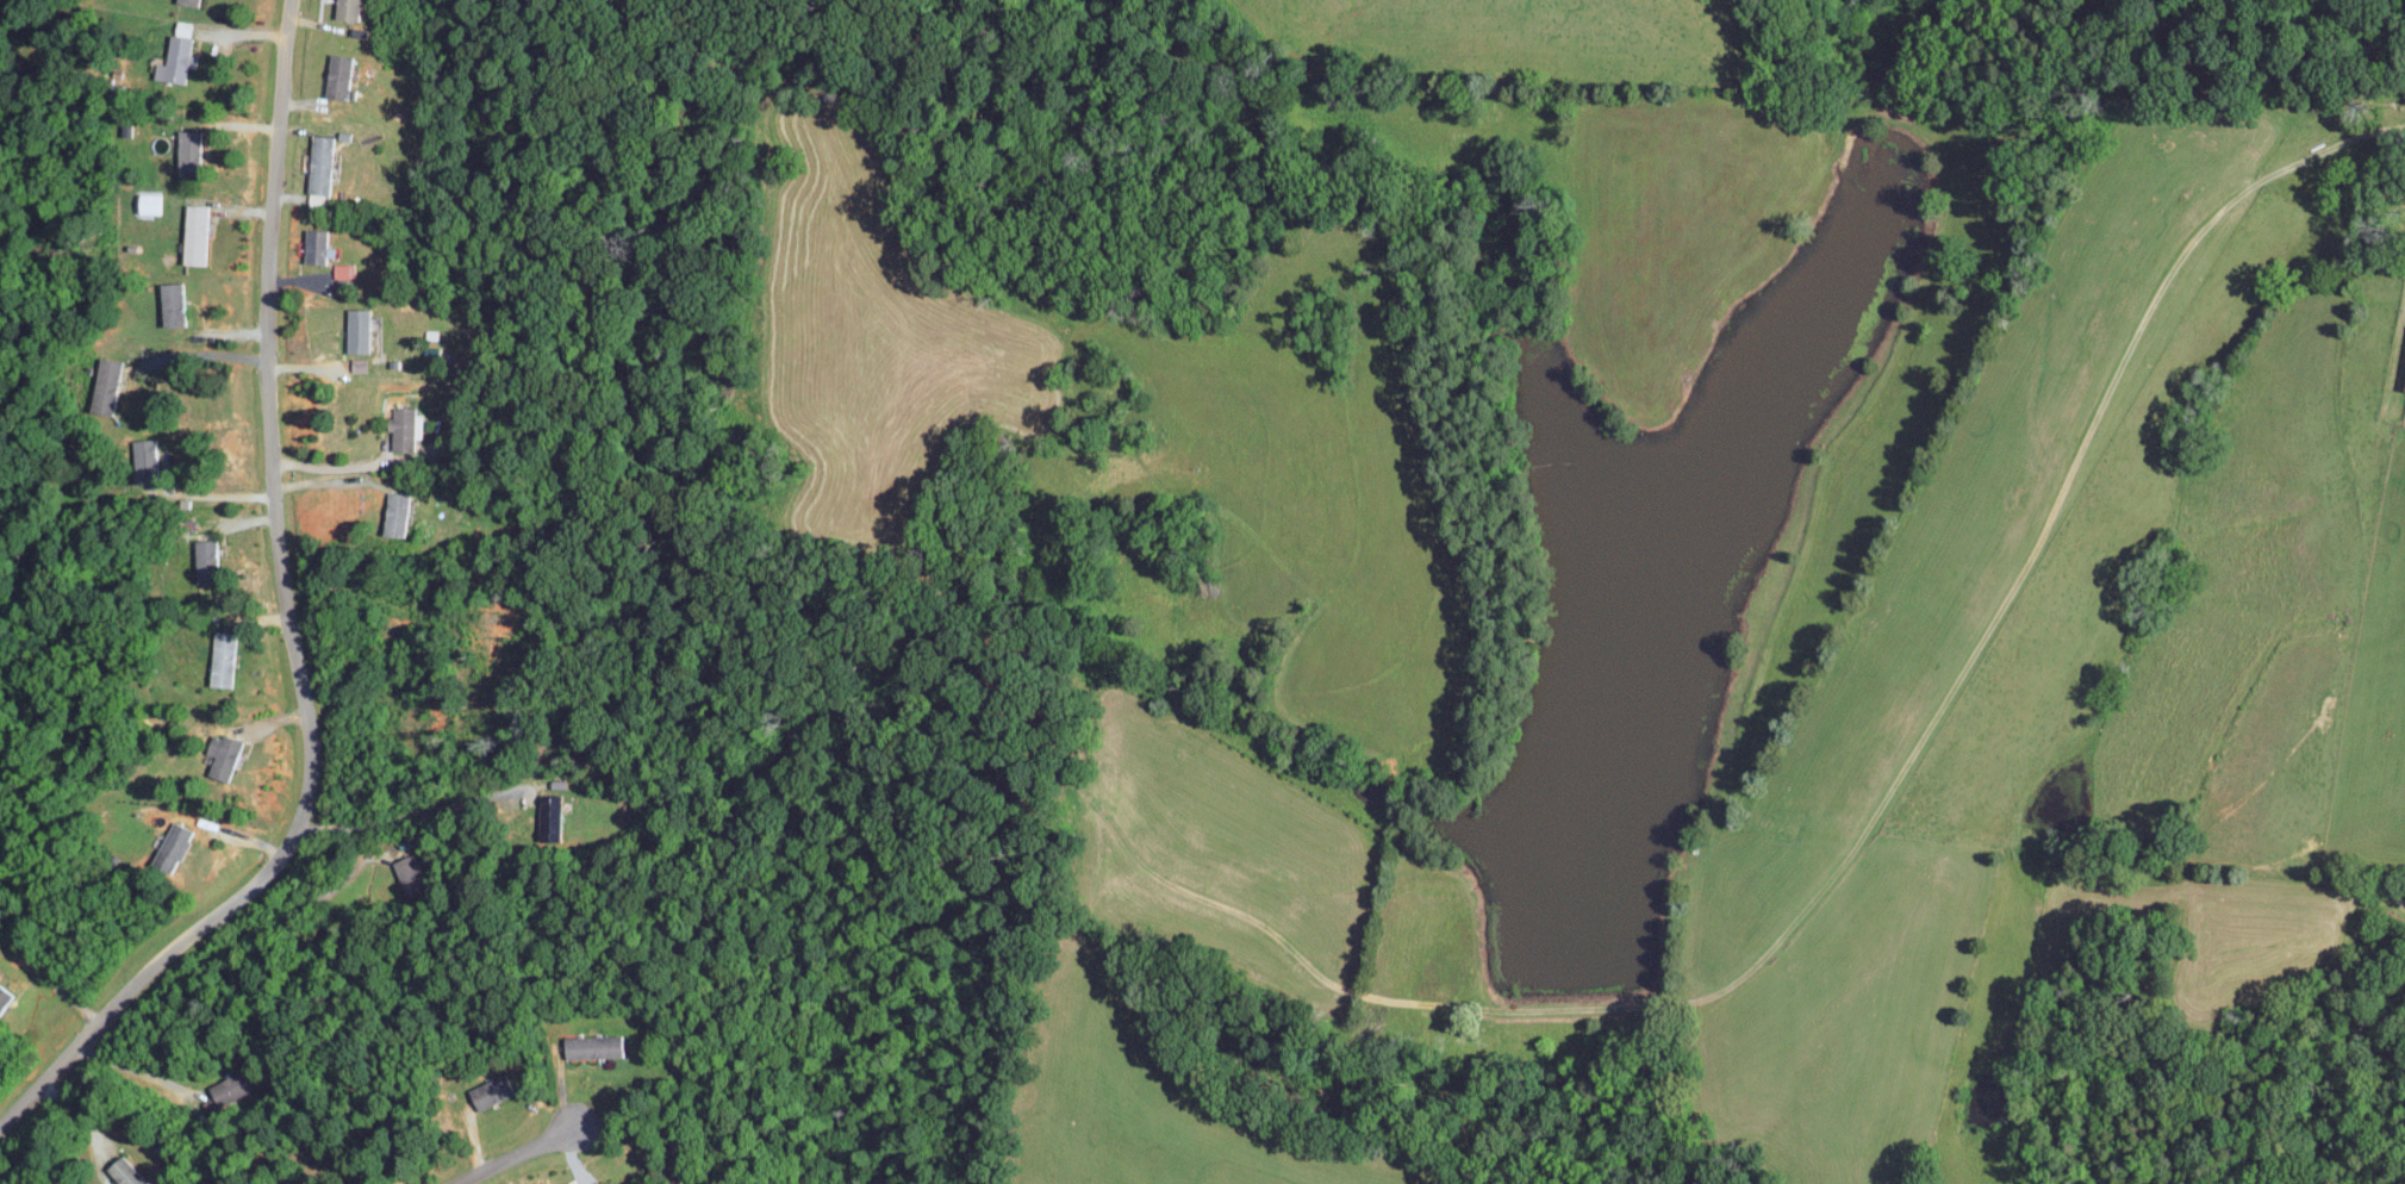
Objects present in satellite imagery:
building: (187, 1)
building: (345, 10)
building: (173, 58)
building: (336, 75)
building: (186, 145)
building: (318, 163)
building: (148, 202)
building: (192, 233)
building: (314, 247)
building: (169, 303)
building: (356, 329)
road: (207, 353)
building: (357, 363)
building: (2403, 381)
building: (104, 385)
building: (403, 428)
building: (145, 455)
road: (330, 466)
road: (211, 493)
building: (394, 513)
building: (203, 552)
road: (295, 624)
building: (220, 659)
building: (220, 755)
road: (410, 814)
building: (548, 816)
building: (170, 847)
building: (412, 868)
road: (306, 904)
building: (591, 1046)
road: (132, 1070)
building: (229, 1088)
building: (487, 1091)
road: (86, 1117)
road: (523, 1139)
building: (122, 1172)
building: (282, 1183)
building: (569, 1183)

